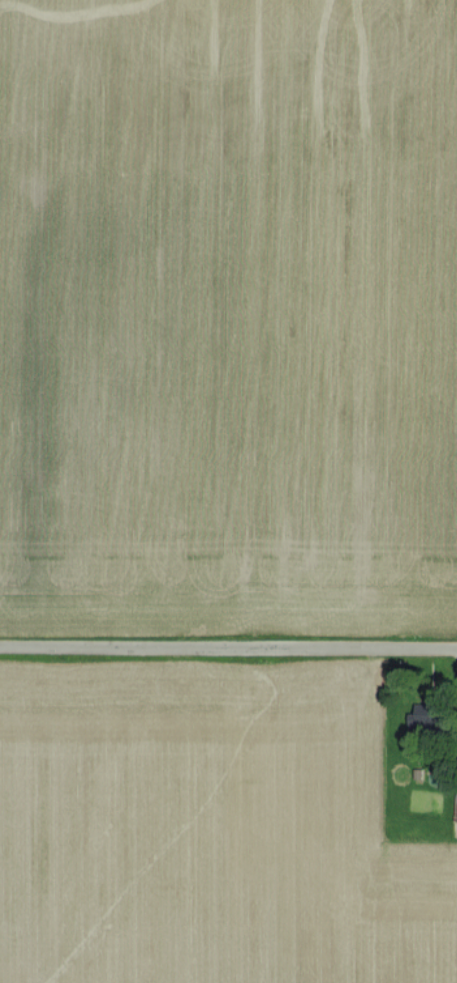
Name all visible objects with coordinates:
road: (228, 650)
building: (425, 711)

